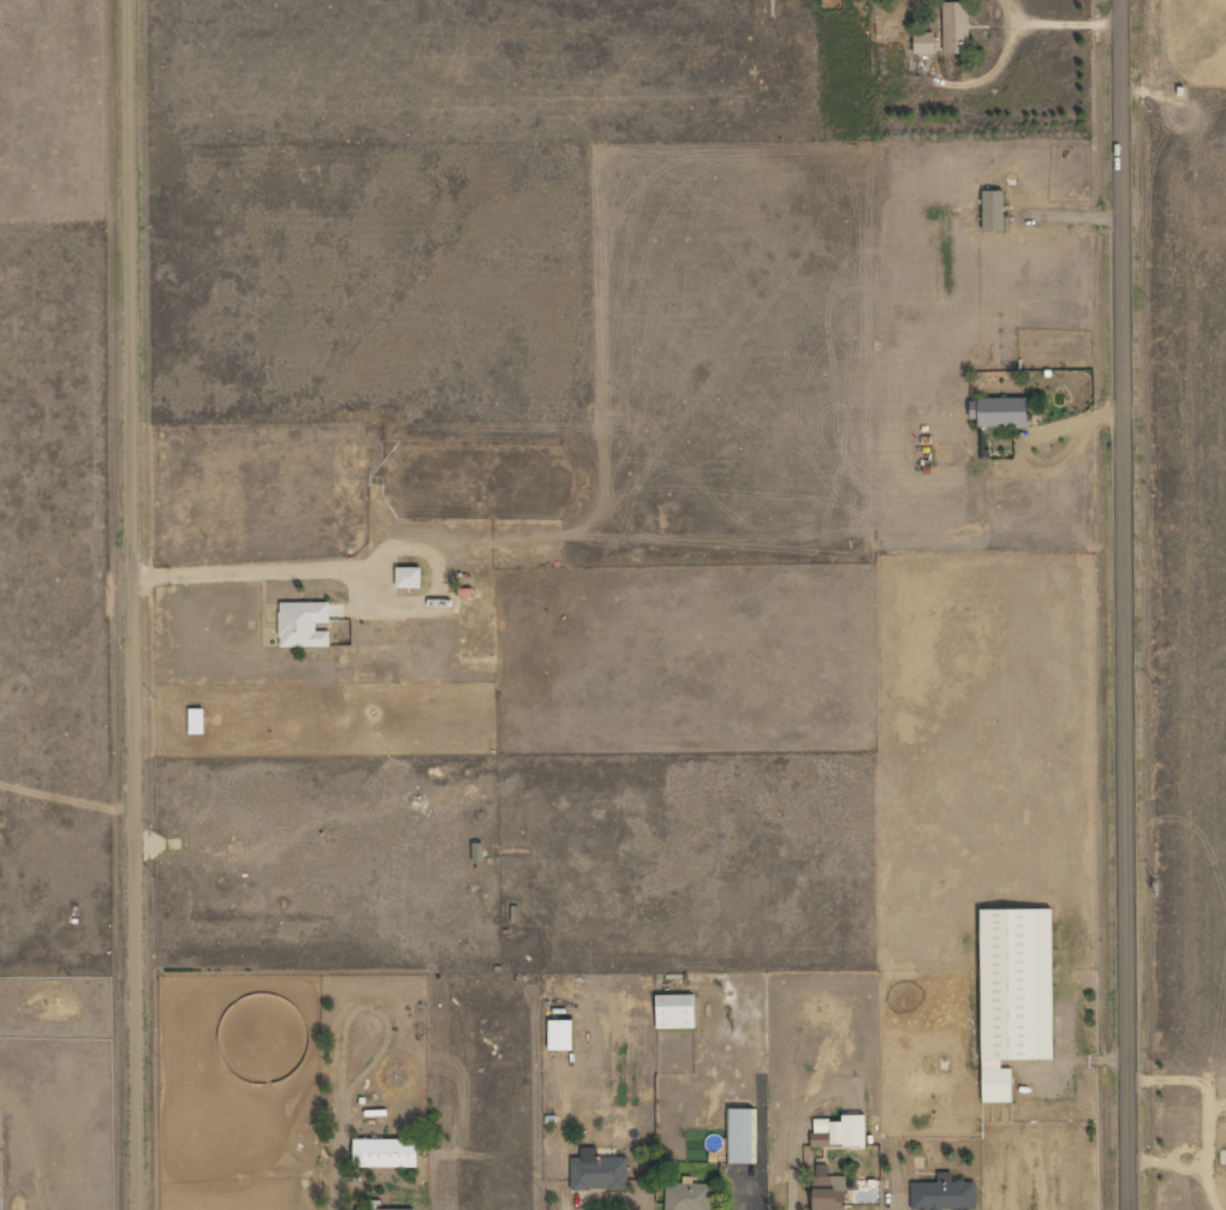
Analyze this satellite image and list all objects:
building: (956, 25)
building: (924, 43)
building: (995, 210)
building: (1002, 412)
building: (410, 577)
road: (135, 604)
road: (1124, 604)
building: (304, 625)
building: (198, 721)
building: (480, 853)
building: (1017, 994)
building: (678, 1012)
building: (561, 1035)
building: (843, 1132)
building: (743, 1136)
building: (387, 1154)
building: (599, 1172)
building: (829, 1190)
building: (945, 1194)
building: (689, 1197)
building: (375, 1205)

